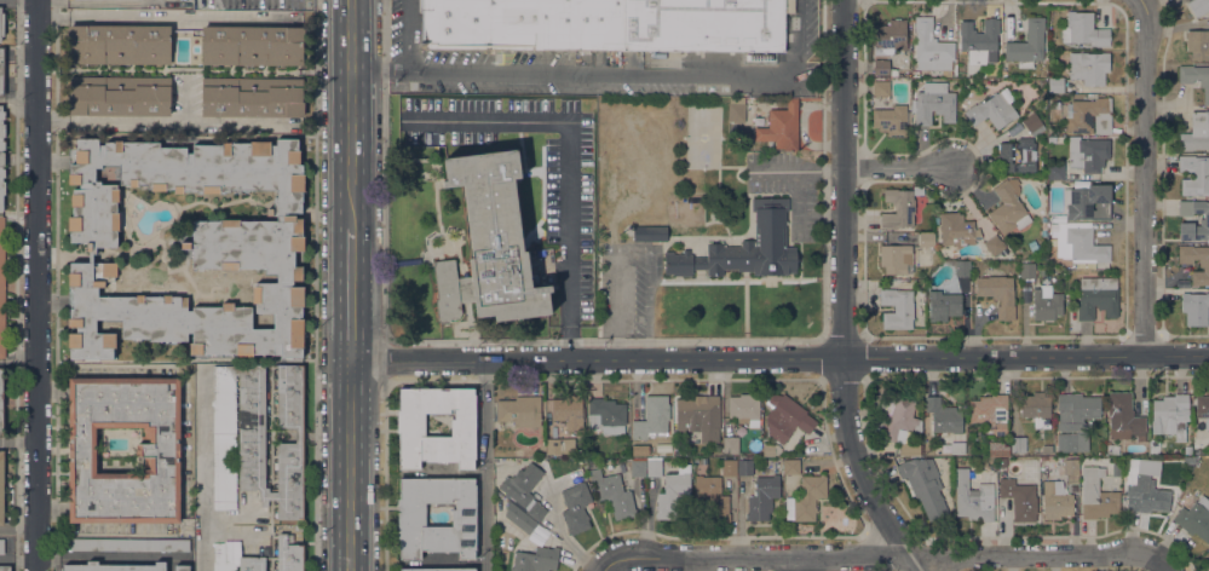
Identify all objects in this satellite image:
road: (98, 2)
building: (788, 6)
building: (1198, 6)
road: (169, 15)
building: (1, 24)
building: (604, 24)
building: (1084, 30)
road: (407, 35)
building: (890, 38)
building: (979, 41)
building: (119, 44)
building: (1198, 44)
building: (252, 46)
building: (929, 46)
building: (1027, 46)
building: (880, 67)
building: (1088, 67)
building: (1, 70)
building: (893, 73)
road: (611, 74)
building: (915, 74)
building: (1196, 77)
building: (1055, 85)
building: (880, 88)
building: (119, 96)
building: (252, 97)
building: (933, 103)
building: (736, 109)
building: (991, 111)
road: (351, 114)
building: (1088, 115)
building: (891, 120)
road: (244, 122)
building: (1032, 125)
building: (781, 127)
building: (1196, 132)
building: (1088, 154)
building: (1, 156)
building: (1017, 156)
road: (52, 161)
road: (568, 169)
road: (798, 171)
road: (899, 171)
building: (1055, 172)
building: (1194, 174)
road: (1147, 178)
road: (796, 198)
building: (1088, 202)
building: (1008, 207)
building: (898, 208)
building: (1204, 220)
building: (1043, 226)
building: (955, 229)
building: (687, 230)
building: (649, 233)
building: (926, 240)
building: (489, 244)
building: (994, 246)
building: (1032, 246)
building: (1082, 246)
building: (190, 247)
building: (744, 247)
building: (896, 259)
building: (1204, 265)
building: (962, 269)
building: (1026, 270)
railway: (357, 284)
road: (36, 285)
building: (1, 290)
road: (350, 294)
building: (997, 294)
road: (842, 296)
building: (1096, 296)
building: (1046, 304)
building: (943, 305)
building: (897, 308)
building: (1194, 308)
building: (108, 325)
road: (18, 358)
road: (778, 359)
road: (102, 364)
building: (1, 404)
building: (744, 409)
building: (1035, 409)
building: (1202, 409)
building: (519, 411)
building: (568, 413)
building: (1170, 414)
building: (701, 415)
building: (990, 415)
building: (605, 416)
building: (943, 416)
building: (899, 417)
building: (1124, 417)
building: (652, 419)
building: (787, 419)
building: (1073, 421)
building: (410, 426)
building: (257, 437)
building: (1018, 444)
building: (731, 445)
building: (559, 446)
building: (957, 448)
building: (767, 449)
building: (909, 449)
building: (1047, 449)
building: (1112, 449)
building: (157, 450)
building: (996, 450)
building: (1186, 450)
building: (991, 461)
building: (1042, 462)
building: (1001, 465)
road: (349, 466)
road: (484, 466)
building: (790, 466)
building: (654, 467)
building: (729, 467)
building: (744, 467)
building: (638, 468)
building: (1070, 469)
road: (203, 471)
building: (1, 484)
building: (923, 484)
building: (1144, 486)
building: (524, 490)
building: (536, 490)
building: (673, 492)
building: (612, 494)
building: (1095, 495)
building: (710, 497)
building: (761, 497)
building: (806, 498)
building: (972, 498)
building: (1019, 498)
building: (1055, 500)
building: (575, 508)
building: (410, 518)
building: (519, 519)
building: (1194, 519)
road: (19, 529)
building: (128, 544)
building: (1, 546)
building: (289, 552)
building: (1208, 552)
building: (234, 558)
road: (881, 558)
road: (19, 559)
building: (535, 559)
road: (798, 565)
road: (1162, 565)
building: (114, 567)
building: (182, 567)
building: (5, 569)
building: (437, 570)
road: (604, 570)
building: (1208, 570)

